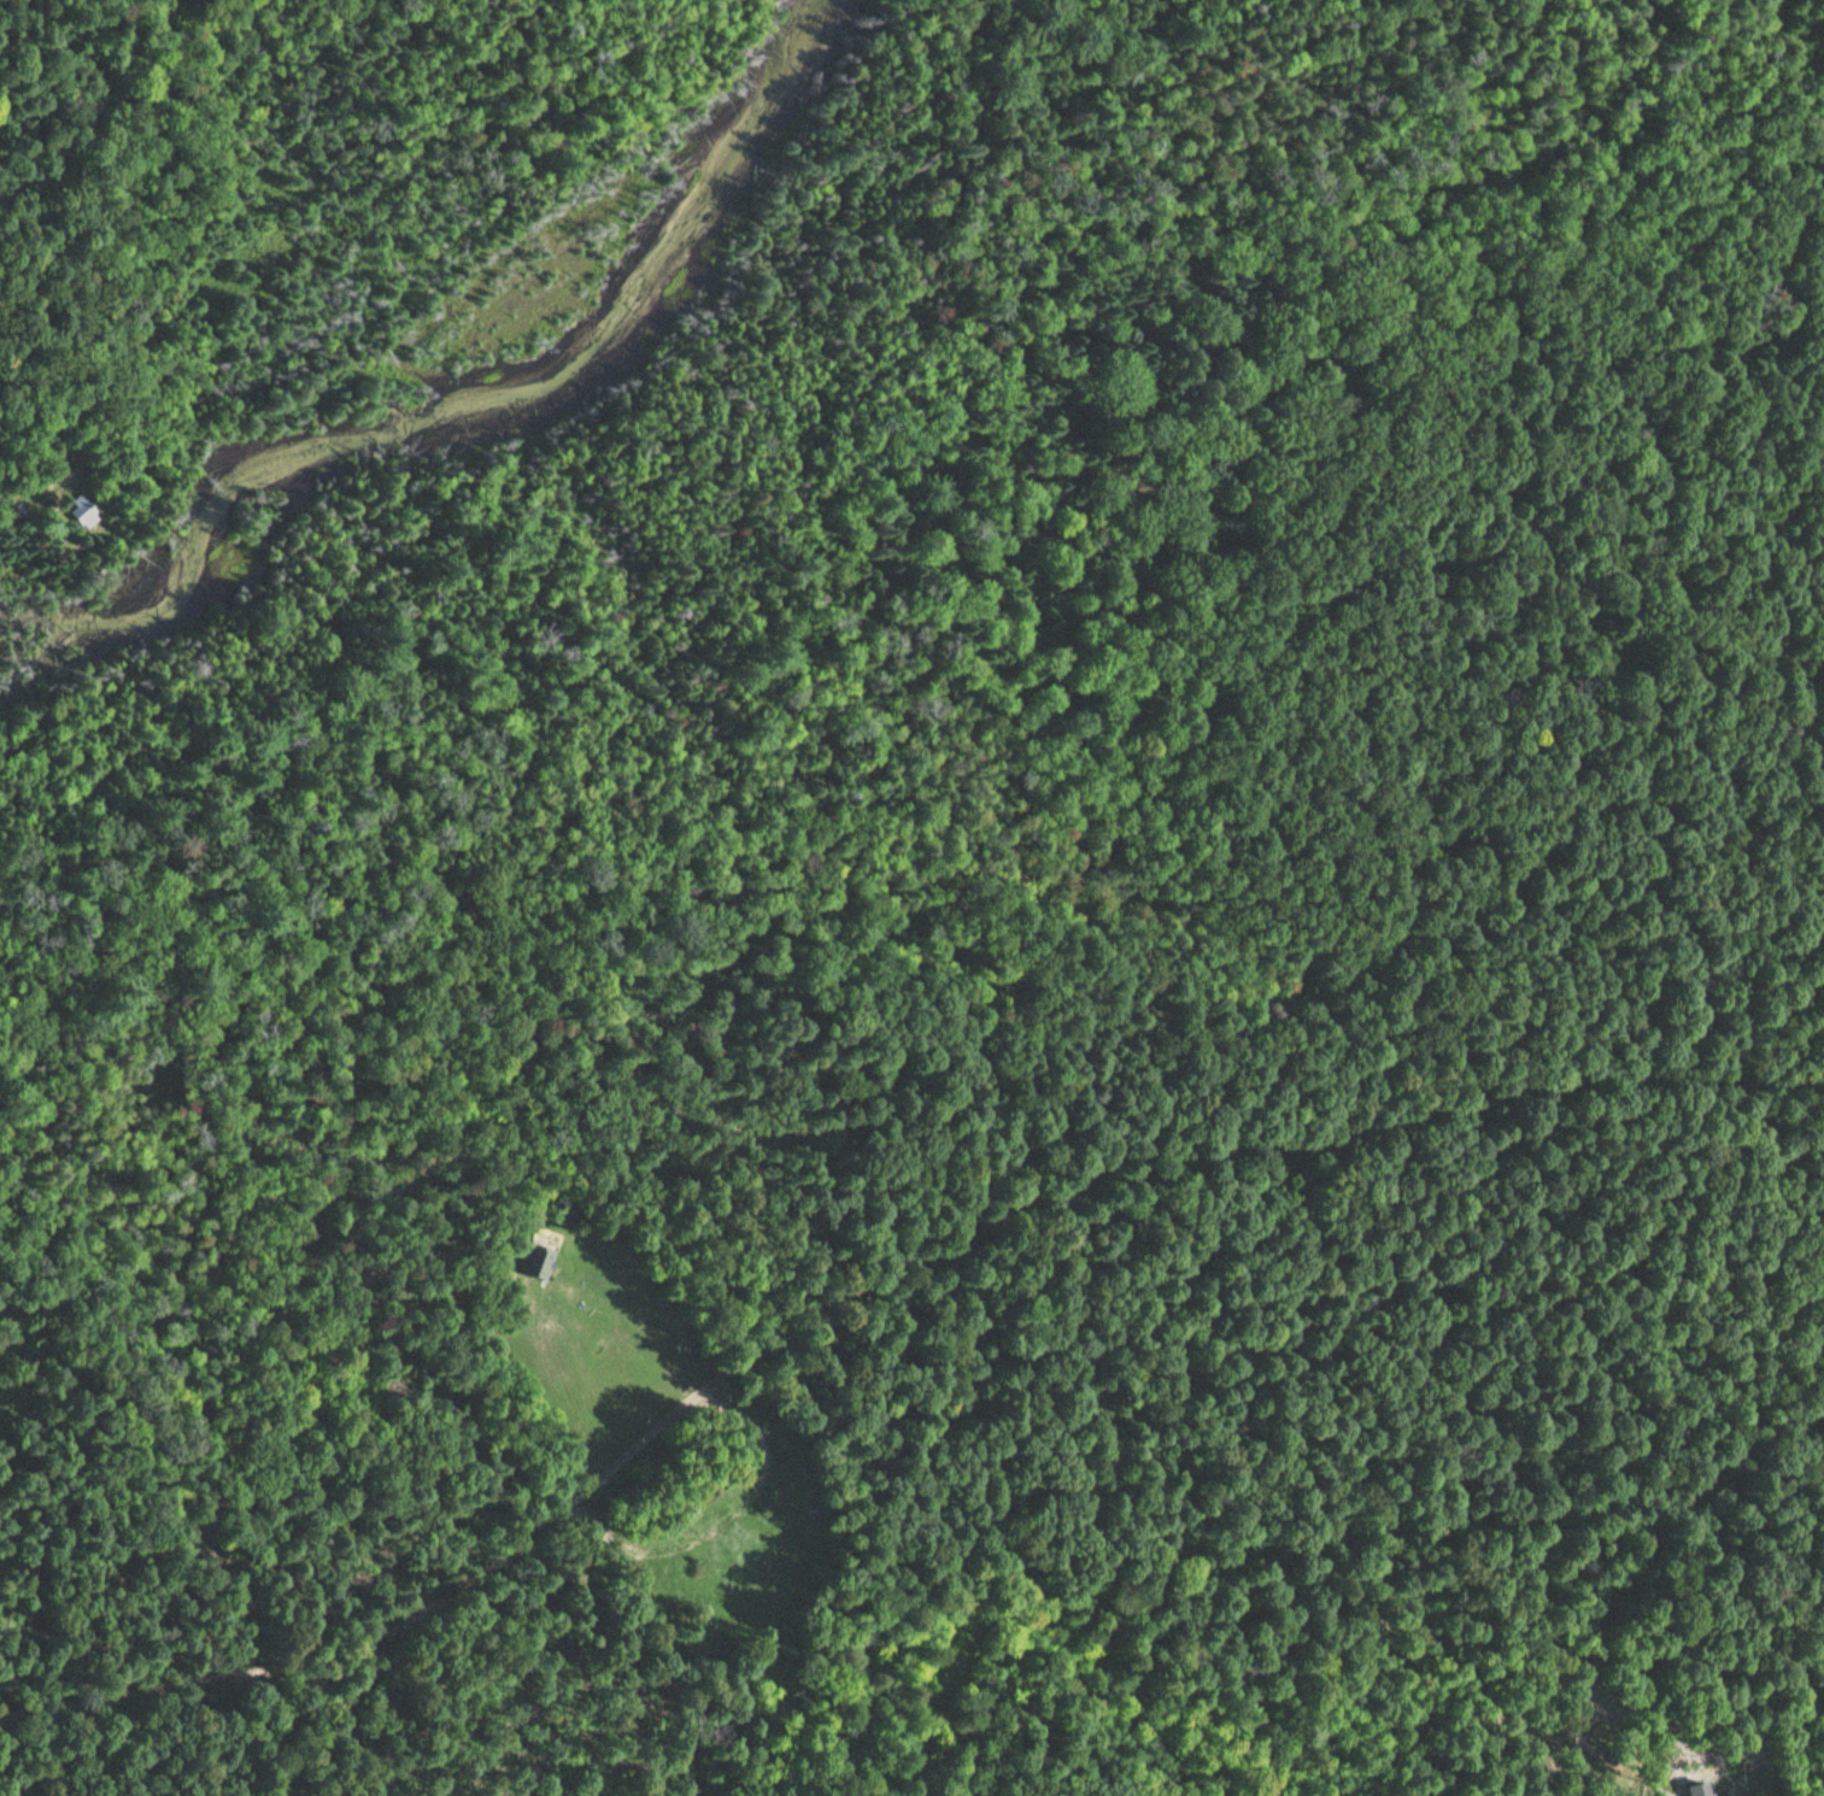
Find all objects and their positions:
river: (474, 407)
building: (81, 510)
road: (1307, 1135)
building: (535, 1260)
road: (451, 1597)
building: (1697, 1789)

